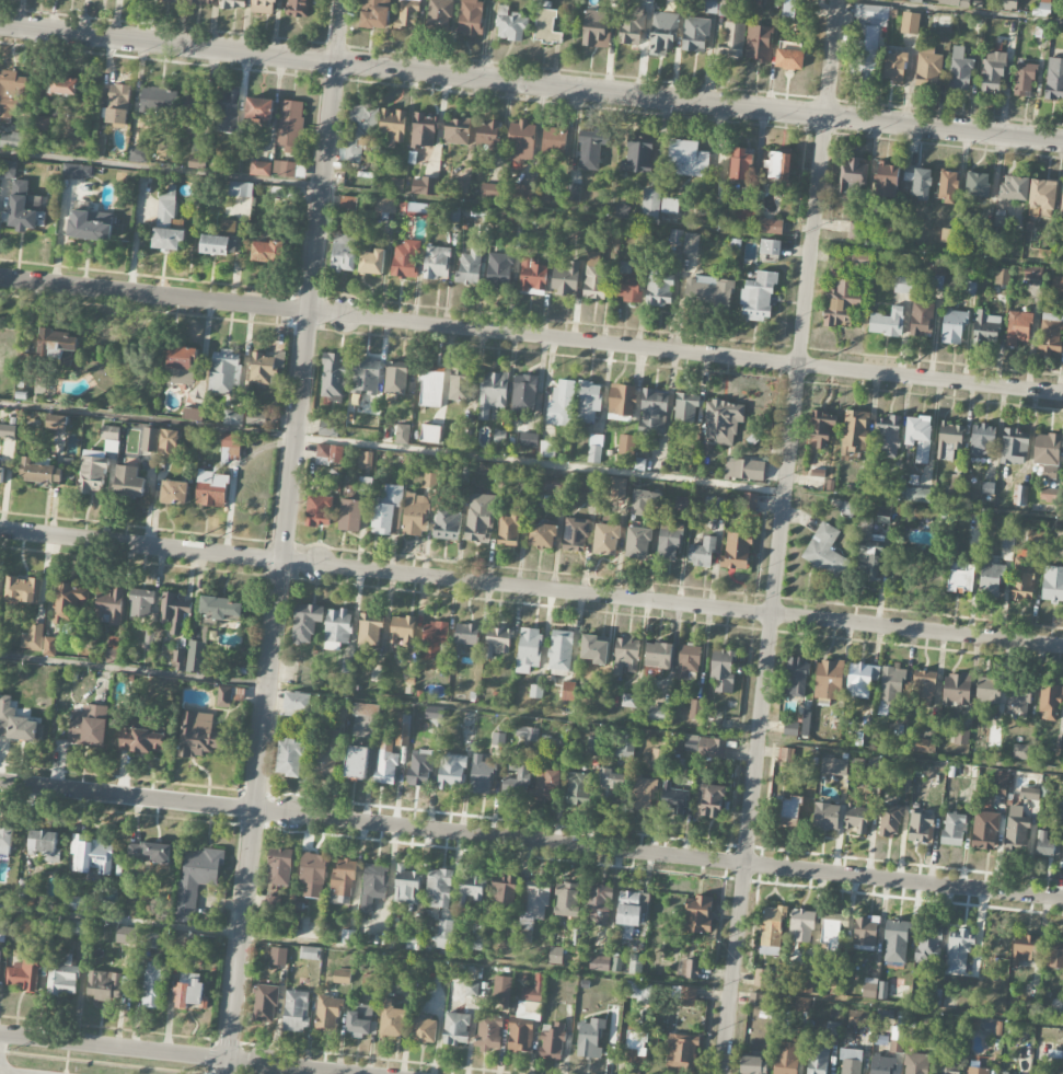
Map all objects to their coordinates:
building: (169, 1)
building: (201, 2)
building: (956, 2)
building: (232, 4)
building: (1008, 4)
building: (264, 7)
building: (298, 9)
building: (788, 10)
road: (961, 11)
building: (440, 13)
building: (374, 14)
building: (406, 14)
building: (871, 14)
building: (470, 18)
building: (910, 22)
building: (509, 24)
building: (546, 24)
building: (631, 25)
building: (596, 27)
building: (662, 33)
building: (695, 34)
building: (732, 38)
building: (759, 42)
building: (865, 50)
building: (788, 55)
road: (832, 59)
building: (894, 66)
building: (928, 67)
building: (993, 72)
building: (960, 73)
building: (1024, 79)
building: (1054, 79)
road: (531, 84)
building: (63, 86)
building: (10, 92)
building: (158, 101)
building: (118, 104)
building: (193, 109)
building: (259, 111)
building: (227, 113)
building: (42, 124)
building: (393, 125)
building: (289, 126)
building: (360, 129)
building: (423, 130)
building: (457, 131)
building: (489, 135)
building: (11, 140)
building: (521, 141)
building: (552, 141)
building: (589, 148)
building: (138, 155)
building: (636, 155)
building: (686, 159)
building: (778, 164)
building: (740, 165)
building: (261, 169)
building: (284, 169)
building: (8, 170)
building: (77, 172)
building: (853, 175)
building: (887, 180)
building: (921, 183)
building: (977, 185)
building: (424, 186)
building: (947, 186)
building: (1014, 187)
building: (240, 189)
building: (488, 190)
building: (574, 192)
building: (530, 194)
building: (1042, 197)
building: (1062, 200)
building: (348, 204)
building: (650, 204)
building: (385, 206)
building: (23, 208)
building: (165, 208)
building: (417, 209)
building: (669, 209)
road: (531, 210)
building: (746, 217)
building: (176, 224)
building: (90, 226)
building: (770, 226)
building: (166, 240)
building: (691, 243)
building: (218, 245)
building: (770, 246)
building: (267, 252)
building: (344, 253)
building: (860, 258)
building: (405, 259)
building: (372, 263)
building: (436, 263)
building: (936, 266)
building: (470, 267)
building: (498, 269)
building: (1033, 272)
building: (533, 276)
building: (594, 276)
building: (565, 278)
building: (629, 284)
building: (1058, 284)
building: (903, 285)
building: (660, 288)
building: (708, 291)
building: (758, 296)
building: (842, 302)
building: (922, 319)
building: (887, 322)
building: (952, 326)
building: (985, 327)
building: (1017, 327)
building: (1050, 332)
road: (531, 336)
building: (59, 347)
building: (181, 366)
building: (266, 368)
building: (223, 372)
building: (366, 376)
building: (333, 377)
building: (395, 379)
building: (460, 384)
building: (431, 388)
building: (492, 392)
building: (523, 393)
building: (620, 400)
building: (589, 401)
building: (561, 402)
building: (685, 407)
building: (652, 414)
building: (233, 418)
building: (724, 420)
building: (57, 423)
building: (821, 429)
building: (8, 431)
building: (854, 432)
building: (402, 435)
building: (430, 435)
building: (888, 436)
building: (918, 437)
building: (111, 439)
building: (528, 439)
building: (949, 439)
building: (150, 440)
building: (982, 440)
building: (169, 442)
building: (626, 444)
building: (232, 446)
building: (546, 447)
building: (594, 448)
building: (1014, 448)
building: (1045, 449)
building: (328, 454)
building: (365, 460)
road: (531, 463)
building: (743, 469)
building: (39, 473)
building: (1, 475)
building: (91, 475)
building: (129, 480)
building: (955, 487)
building: (987, 488)
building: (211, 489)
building: (617, 489)
building: (174, 493)
building: (916, 494)
building: (1020, 495)
building: (644, 501)
building: (681, 504)
building: (715, 505)
building: (749, 505)
building: (846, 508)
building: (319, 511)
building: (386, 511)
building: (350, 516)
building: (415, 516)
building: (478, 518)
building: (882, 519)
building: (447, 524)
building: (866, 527)
building: (508, 529)
building: (575, 534)
building: (542, 535)
road: (287, 536)
building: (1035, 538)
building: (606, 539)
building: (668, 541)
building: (637, 542)
building: (737, 550)
building: (825, 551)
building: (701, 552)
building: (870, 561)
building: (961, 578)
building: (992, 578)
building: (1022, 579)
building: (1053, 584)
road: (531, 588)
building: (22, 589)
road: (774, 596)
building: (68, 602)
building: (140, 604)
building: (111, 605)
building: (221, 608)
building: (305, 623)
building: (337, 628)
building: (369, 630)
building: (466, 636)
building: (32, 638)
building: (435, 639)
building: (498, 640)
building: (149, 642)
building: (49, 647)
building: (593, 648)
building: (528, 649)
building: (115, 650)
building: (559, 650)
building: (624, 655)
building: (657, 655)
building: (195, 657)
building: (688, 660)
building: (177, 661)
building: (721, 669)
building: (797, 675)
building: (829, 680)
building: (859, 681)
building: (925, 685)
building: (891, 686)
building: (958, 689)
building: (567, 690)
building: (990, 690)
building: (534, 691)
building: (224, 697)
building: (1019, 700)
building: (628, 701)
building: (1050, 702)
building: (297, 704)
building: (695, 708)
building: (656, 713)
road: (531, 715)
building: (16, 725)
building: (88, 726)
building: (792, 728)
building: (403, 730)
building: (527, 734)
building: (199, 736)
building: (961, 737)
building: (498, 738)
building: (859, 739)
building: (994, 739)
building: (142, 740)
building: (626, 743)
building: (923, 746)
building: (712, 748)
building: (1024, 752)
building: (325, 753)
building: (787, 755)
building: (290, 759)
building: (874, 762)
building: (356, 763)
building: (385, 764)
building: (834, 765)
building: (966, 770)
building: (420, 771)
building: (451, 772)
building: (952, 772)
building: (481, 774)
building: (516, 779)
building: (546, 784)
building: (1001, 785)
building: (935, 787)
building: (579, 788)
building: (611, 788)
building: (643, 794)
building: (1029, 794)
building: (671, 797)
building: (710, 800)
building: (1060, 804)
building: (788, 812)
building: (827, 817)
building: (858, 817)
building: (890, 820)
building: (920, 824)
building: (952, 830)
building: (985, 830)
building: (1017, 831)
building: (5, 840)
road: (531, 842)
building: (1045, 844)
building: (44, 845)
building: (149, 853)
building: (91, 855)
building: (279, 867)
building: (312, 876)
building: (197, 879)
building: (343, 880)
building: (373, 886)
building: (439, 889)
building: (23, 890)
building: (505, 891)
building: (406, 892)
building: (471, 893)
building: (599, 904)
building: (697, 914)
building: (532, 915)
building: (801, 925)
building: (80, 928)
building: (444, 928)
building: (772, 929)
building: (831, 932)
building: (865, 933)
building: (127, 936)
building: (151, 940)
building: (896, 940)
building: (184, 942)
building: (929, 944)
building: (1022, 949)
building: (958, 952)
building: (1054, 952)
building: (309, 954)
building: (278, 957)
building: (599, 962)
building: (635, 963)
road: (531, 968)
building: (689, 968)
building: (23, 975)
building: (761, 977)
building: (340, 978)
building: (62, 980)
building: (804, 984)
building: (103, 985)
building: (153, 985)
building: (836, 985)
building: (500, 986)
building: (874, 988)
building: (533, 990)
building: (188, 992)
building: (685, 996)
building: (756, 998)
building: (265, 1004)
building: (801, 1004)
building: (529, 1009)
building: (296, 1011)
building: (327, 1013)
building: (860, 1018)
building: (392, 1020)
building: (360, 1023)
building: (457, 1029)
building: (426, 1030)
building: (488, 1033)
building: (519, 1036)
building: (590, 1038)
building: (897, 1040)
building: (552, 1041)
building: (636, 1043)
building: (682, 1052)
road: (177, 1053)
building: (786, 1058)
building: (818, 1058)
building: (851, 1061)
building: (915, 1063)
building: (880, 1064)
building: (753, 1065)
building: (946, 1065)
building: (978, 1070)
road: (2, 1073)

